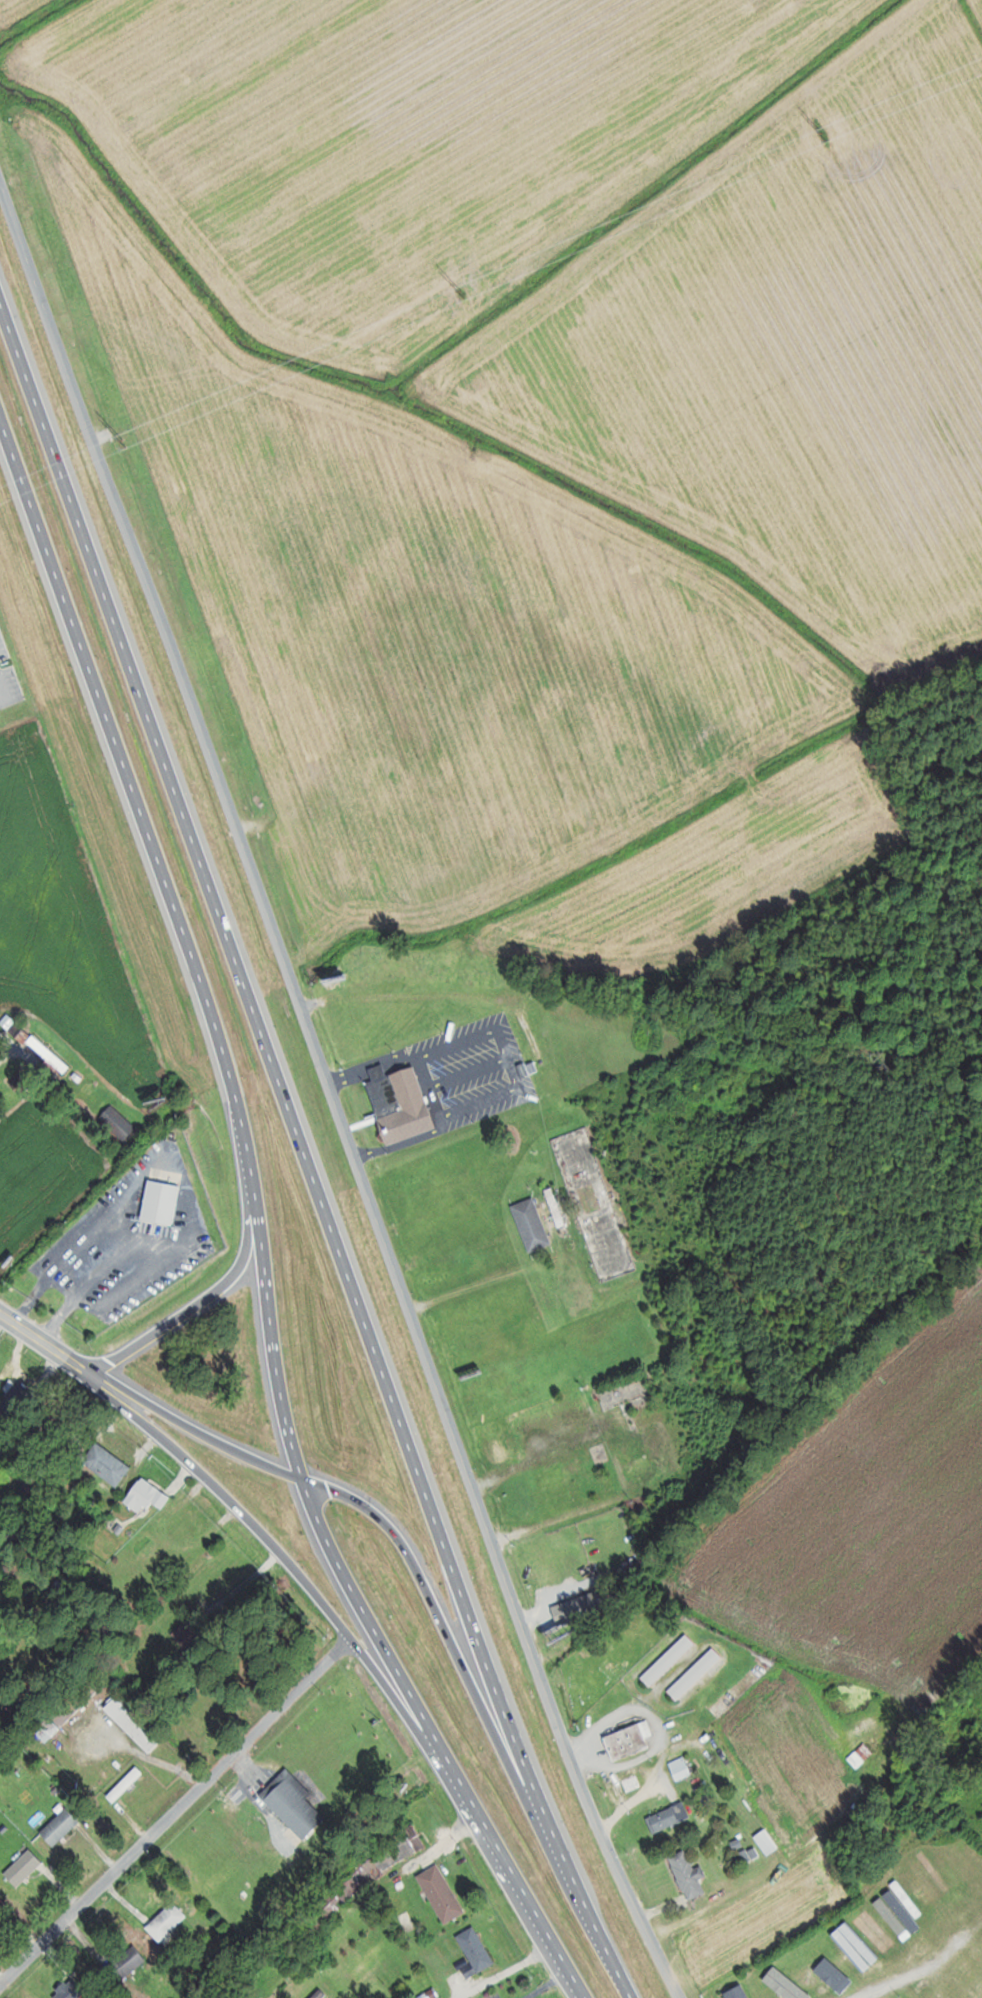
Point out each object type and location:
power tower: (825, 135)
power tower: (464, 293)
power tower: (126, 443)
road: (188, 936)
road: (6, 1036)
building: (51, 1054)
road: (275, 1063)
road: (331, 1091)
building: (402, 1104)
building: (120, 1122)
building: (162, 1203)
building: (559, 1206)
building: (533, 1225)
road: (203, 1298)
road: (46, 1343)
building: (629, 1393)
building: (18, 1394)
building: (108, 1464)
building: (148, 1496)
road: (391, 1531)
road: (279, 1551)
building: (582, 1608)
building: (189, 1636)
building: (670, 1660)
building: (249, 1665)
building: (697, 1673)
building: (136, 1723)
building: (631, 1739)
road: (436, 1742)
building: (863, 1755)
building: (731, 1765)
building: (682, 1768)
building: (127, 1784)
building: (296, 1804)
road: (177, 1814)
building: (670, 1818)
building: (63, 1827)
road: (57, 1836)
building: (768, 1842)
building: (400, 1848)
building: (25, 1868)
building: (690, 1875)
building: (342, 1893)
building: (443, 1894)
road: (595, 1914)
building: (170, 1920)
building: (924, 1920)
building: (478, 1950)
building: (878, 1950)
building: (373, 1962)
building: (128, 1964)
building: (831, 1969)
road: (915, 1974)
building: (775, 1976)
building: (737, 1989)
building: (322, 1995)
building: (912, 1995)

